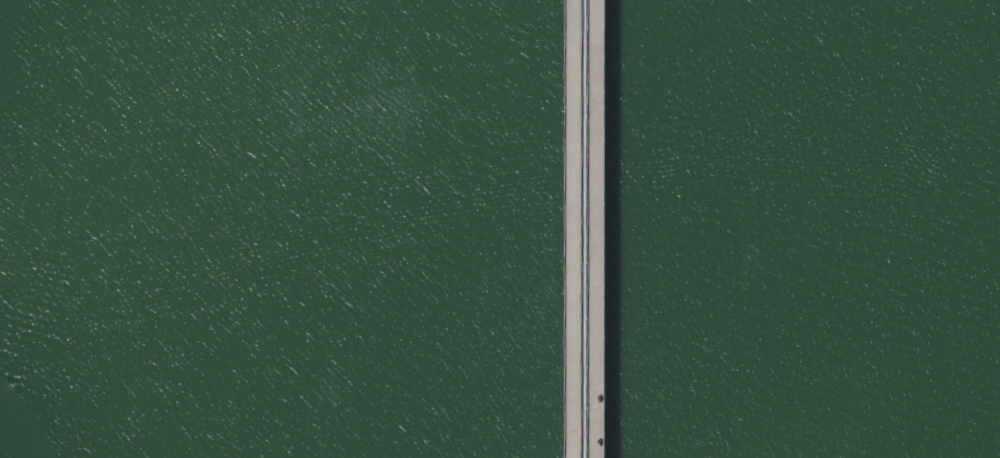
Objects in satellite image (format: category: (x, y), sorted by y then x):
road: (581, 228)
road: (605, 229)

